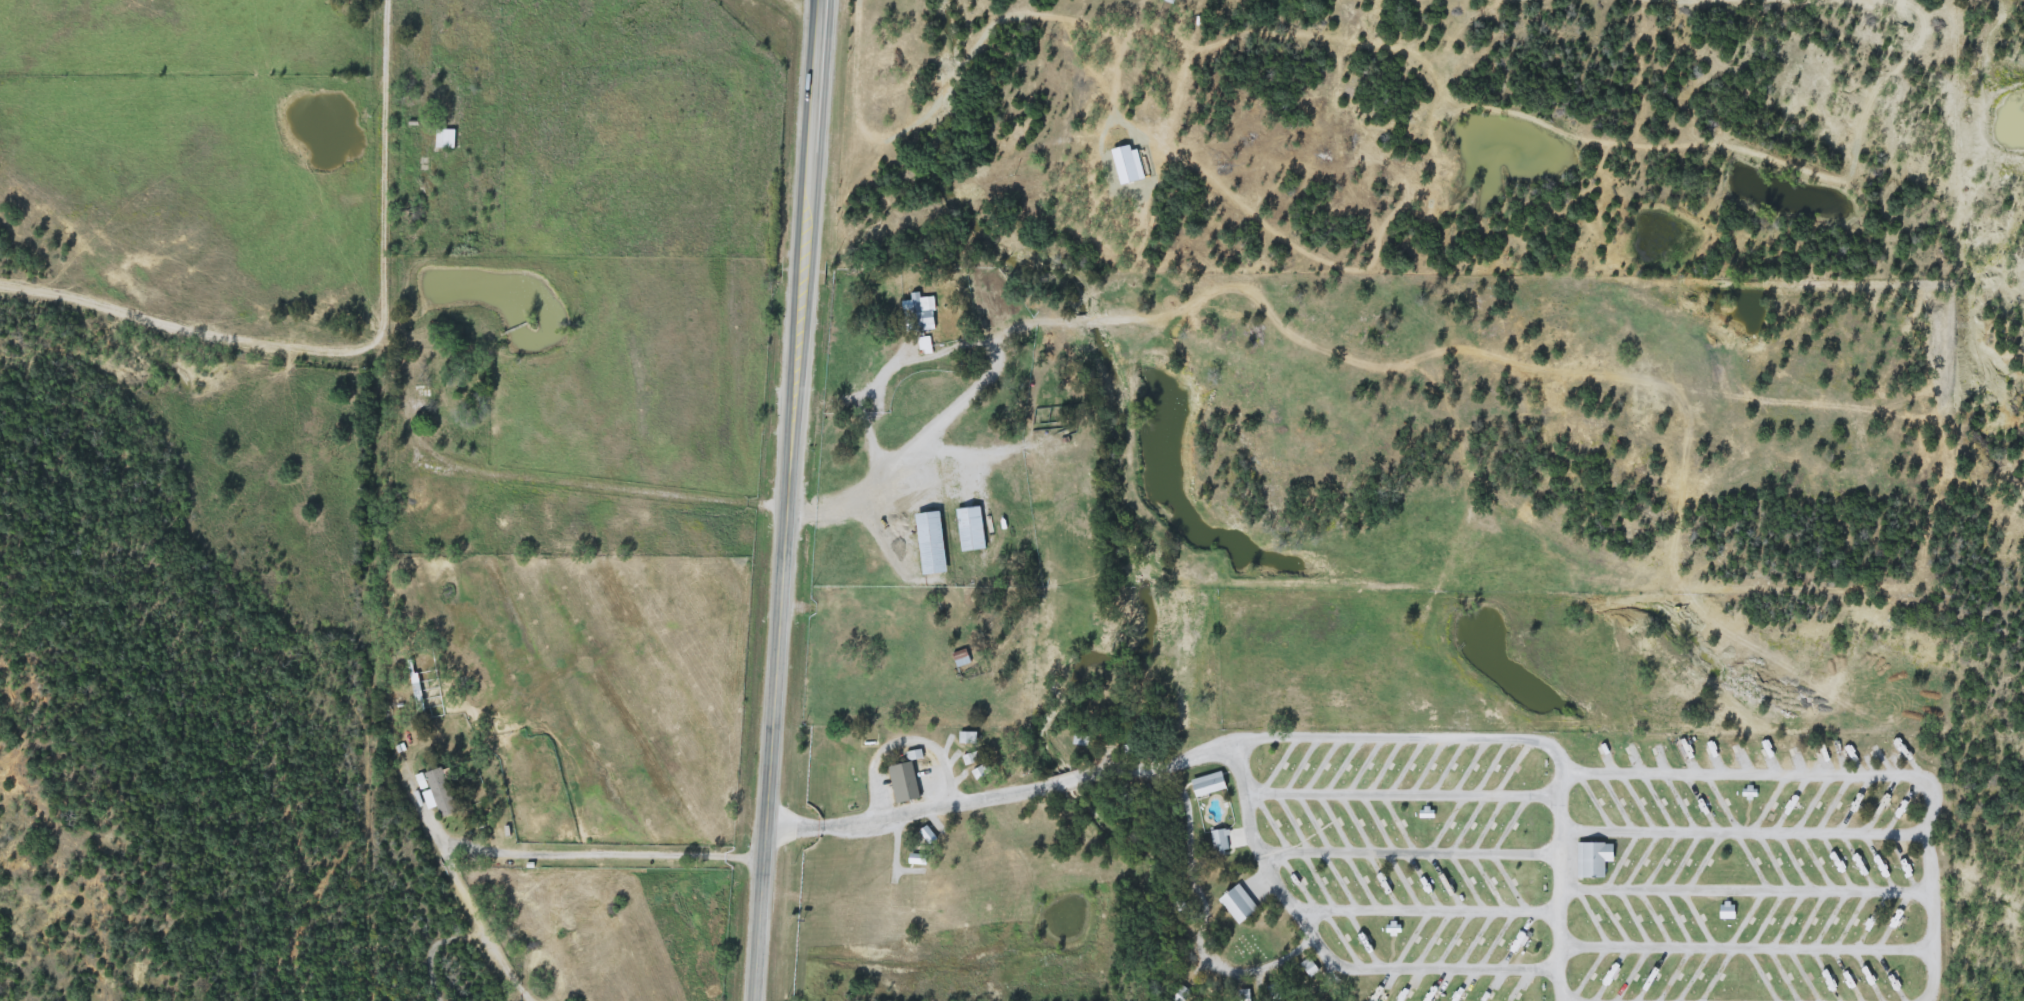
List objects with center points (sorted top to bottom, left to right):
building: (448, 116)
building: (918, 312)
road: (352, 344)
building: (443, 388)
building: (422, 391)
road: (571, 483)
road: (785, 500)
building: (973, 528)
building: (934, 542)
building: (964, 657)
building: (970, 737)
building: (1081, 739)
road: (1171, 757)
building: (973, 758)
building: (983, 771)
road: (1851, 775)
building: (899, 787)
building: (1203, 788)
building: (443, 792)
road: (1398, 794)
road: (1742, 832)
building: (1217, 845)
road: (1402, 851)
road: (599, 855)
building: (1589, 859)
road: (1554, 887)
road: (1741, 892)
building: (1235, 907)
building: (1722, 911)
road: (1422, 912)
road: (1740, 948)
road: (1318, 956)
building: (1305, 966)

